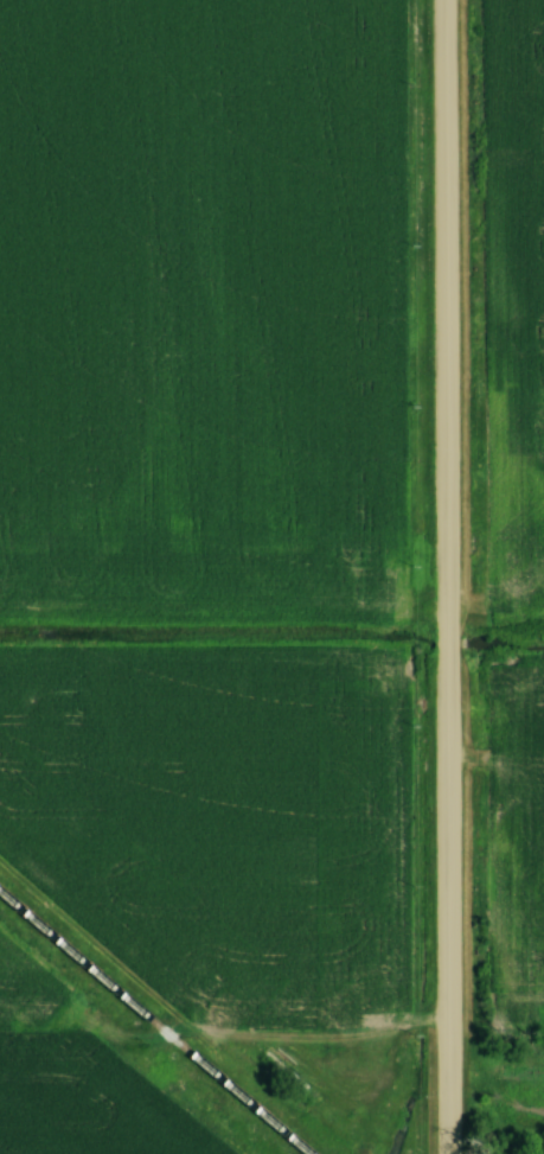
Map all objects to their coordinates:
road: (444, 576)
railway: (153, 1021)

